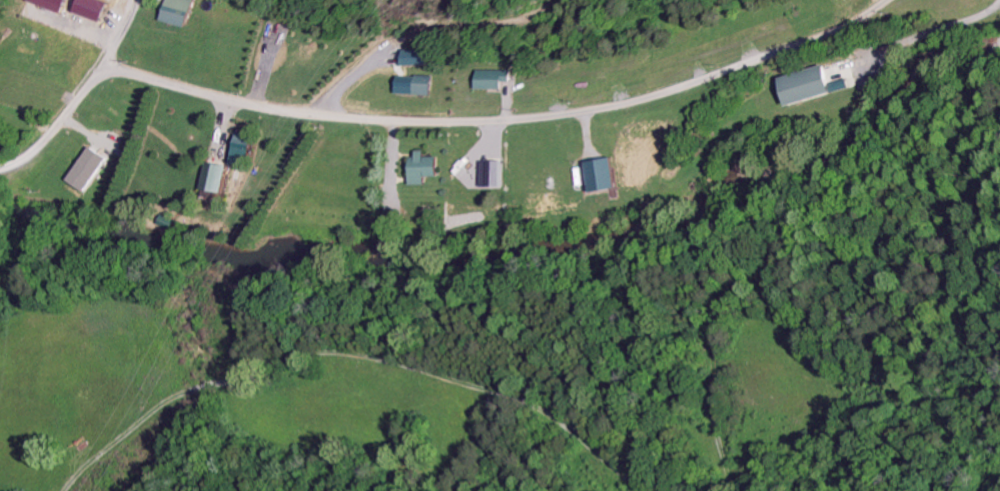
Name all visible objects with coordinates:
building: (45, 6)
building: (169, 14)
building: (405, 60)
building: (485, 82)
building: (408, 89)
building: (803, 89)
road: (81, 95)
road: (506, 113)
building: (238, 152)
building: (421, 171)
building: (84, 173)
building: (488, 177)
building: (600, 179)
building: (210, 181)

